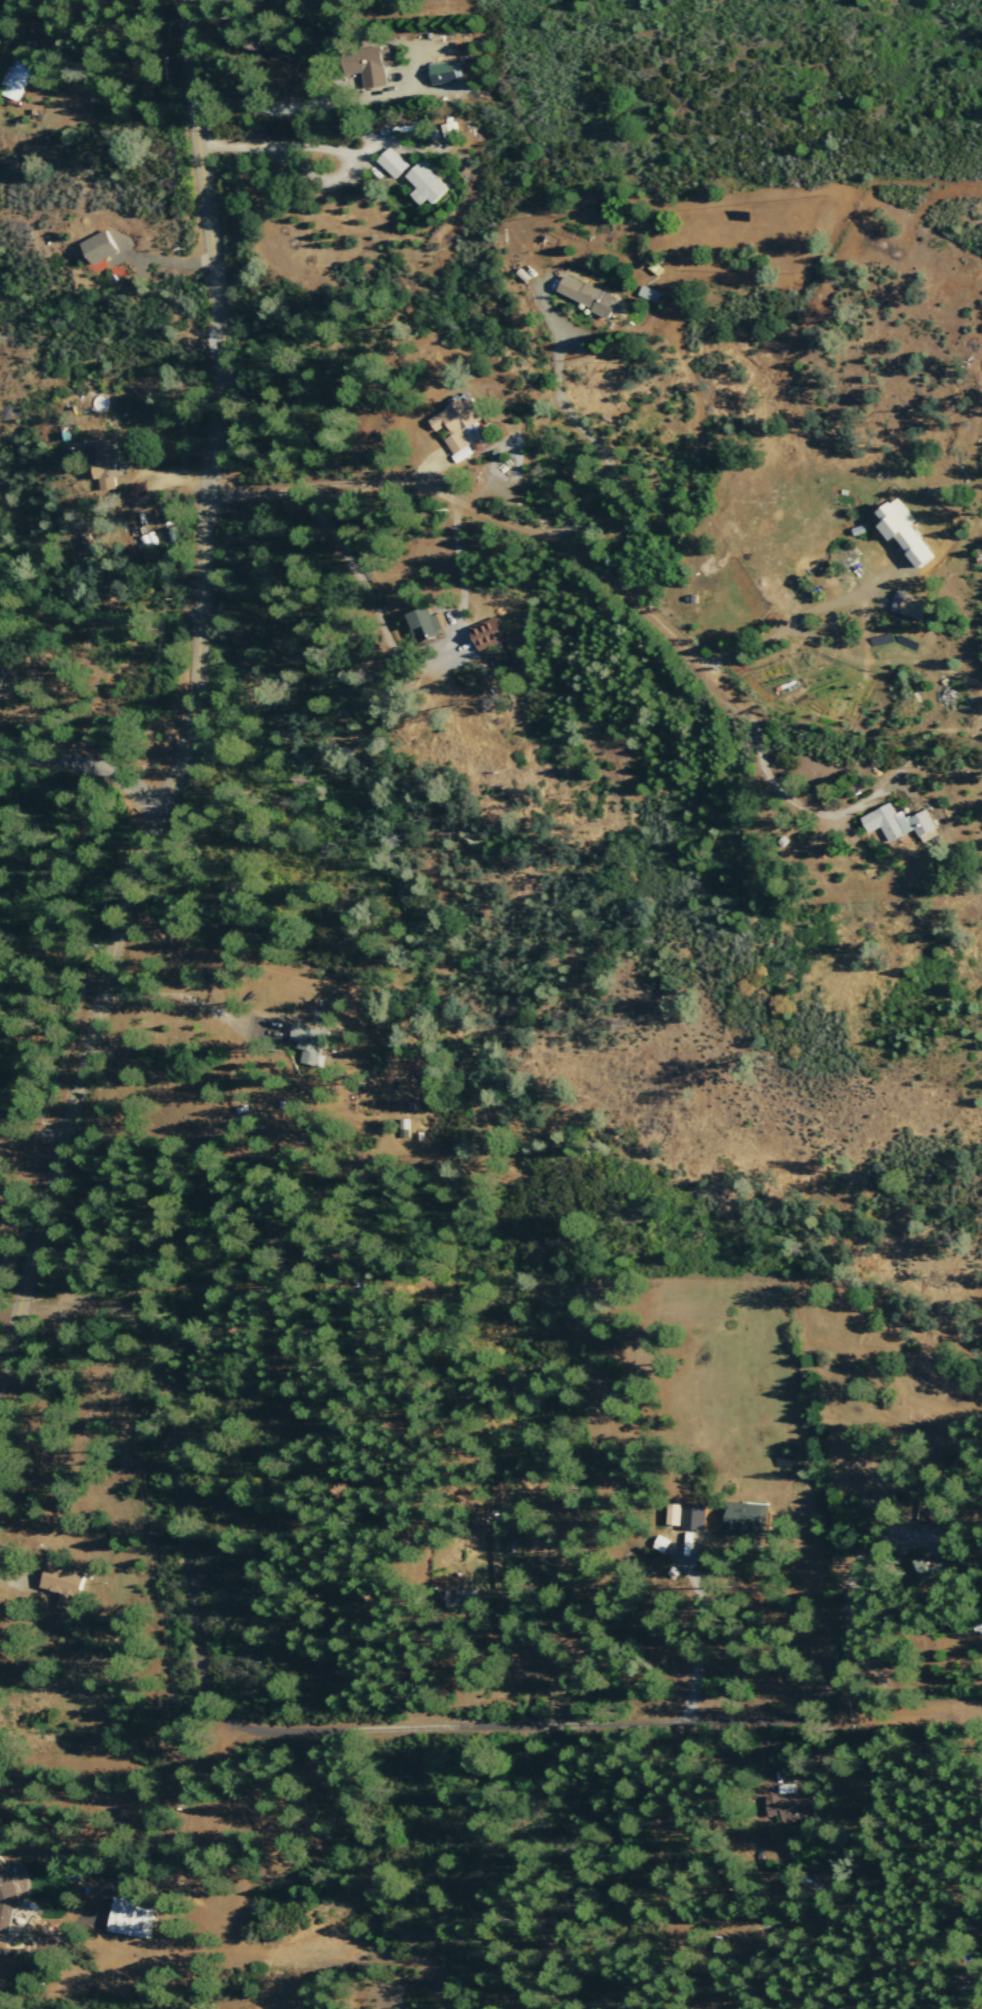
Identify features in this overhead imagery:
building: (367, 66)
building: (443, 73)
building: (17, 80)
building: (390, 164)
building: (424, 185)
building: (99, 248)
building: (589, 295)
building: (458, 426)
building: (107, 464)
road: (516, 522)
building: (907, 534)
building: (979, 556)
building: (910, 607)
building: (427, 626)
building: (488, 634)
building: (0, 675)
road: (195, 702)
road: (85, 775)
building: (899, 825)
building: (310, 1042)
building: (404, 1128)
road: (333, 1279)
road: (176, 1481)
building: (695, 1517)
building: (747, 1517)
building: (660, 1545)
building: (955, 1558)
building: (792, 1808)
building: (6, 1894)
building: (132, 1918)

